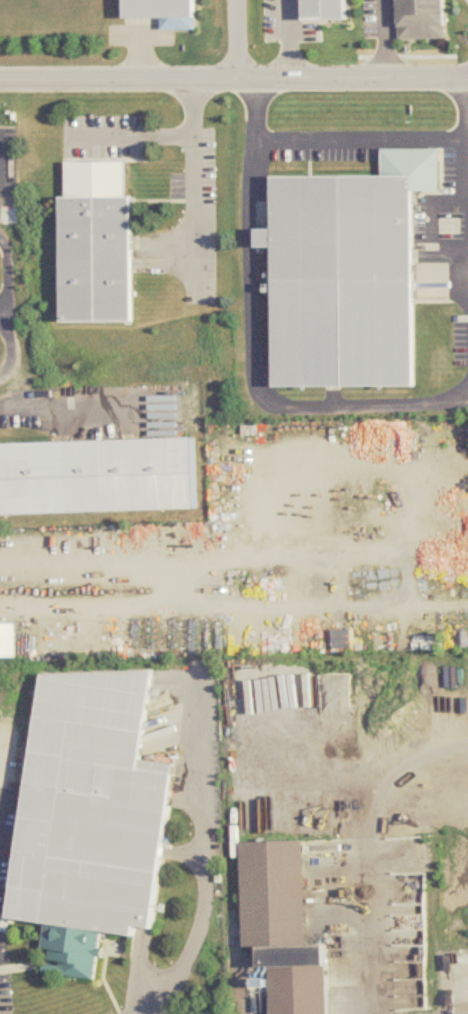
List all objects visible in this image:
building: (159, 9)
building: (324, 10)
building: (420, 19)
road: (385, 38)
road: (237, 39)
road: (233, 79)
road: (134, 134)
road: (360, 144)
road: (467, 150)
road: (194, 182)
building: (95, 245)
building: (342, 282)
road: (6, 310)
road: (255, 365)
road: (25, 410)
building: (52, 479)
building: (8, 641)
building: (89, 818)
road: (374, 852)
road: (205, 898)
building: (280, 926)

